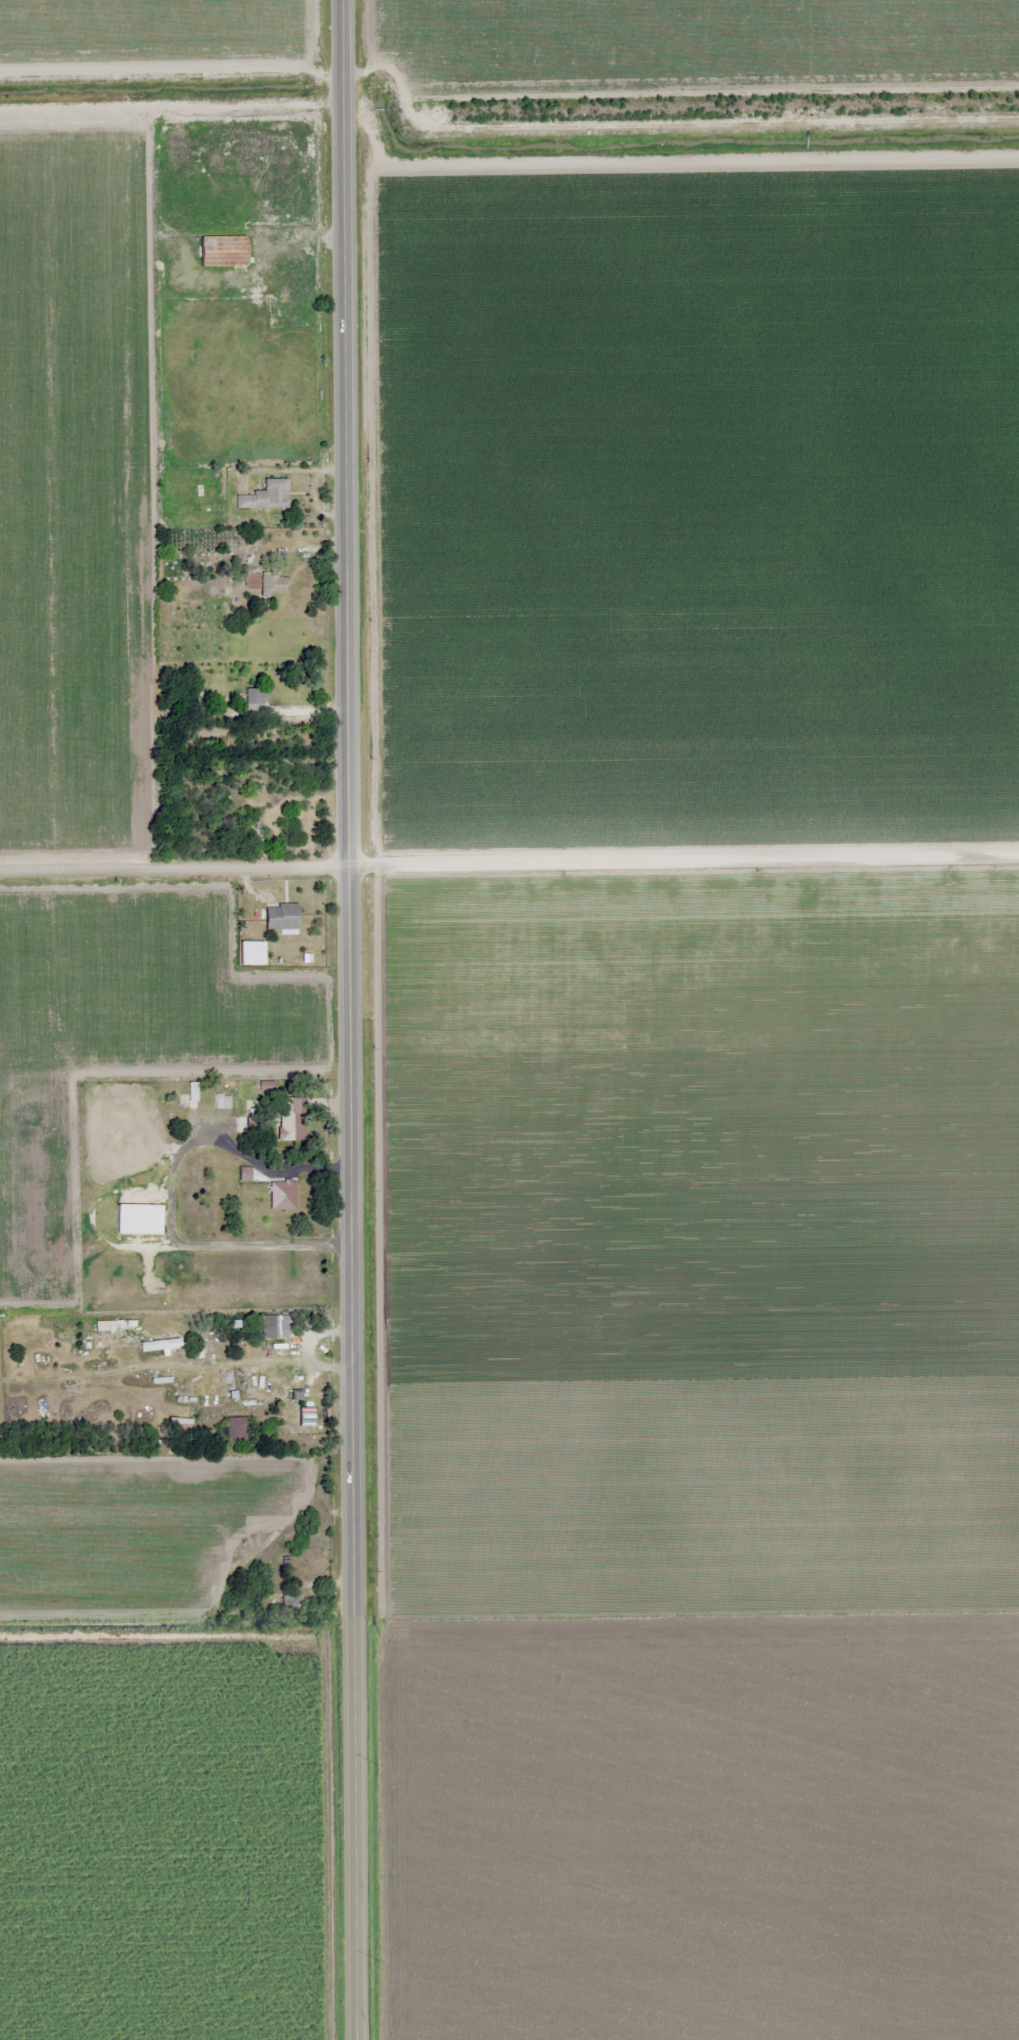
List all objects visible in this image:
building: (221, 250)
building: (264, 496)
building: (272, 583)
building: (252, 697)
road: (509, 862)
building: (278, 916)
road: (356, 1020)
building: (290, 1118)
building: (281, 1195)
building: (137, 1218)
building: (273, 1326)
building: (235, 1431)
building: (290, 1604)

